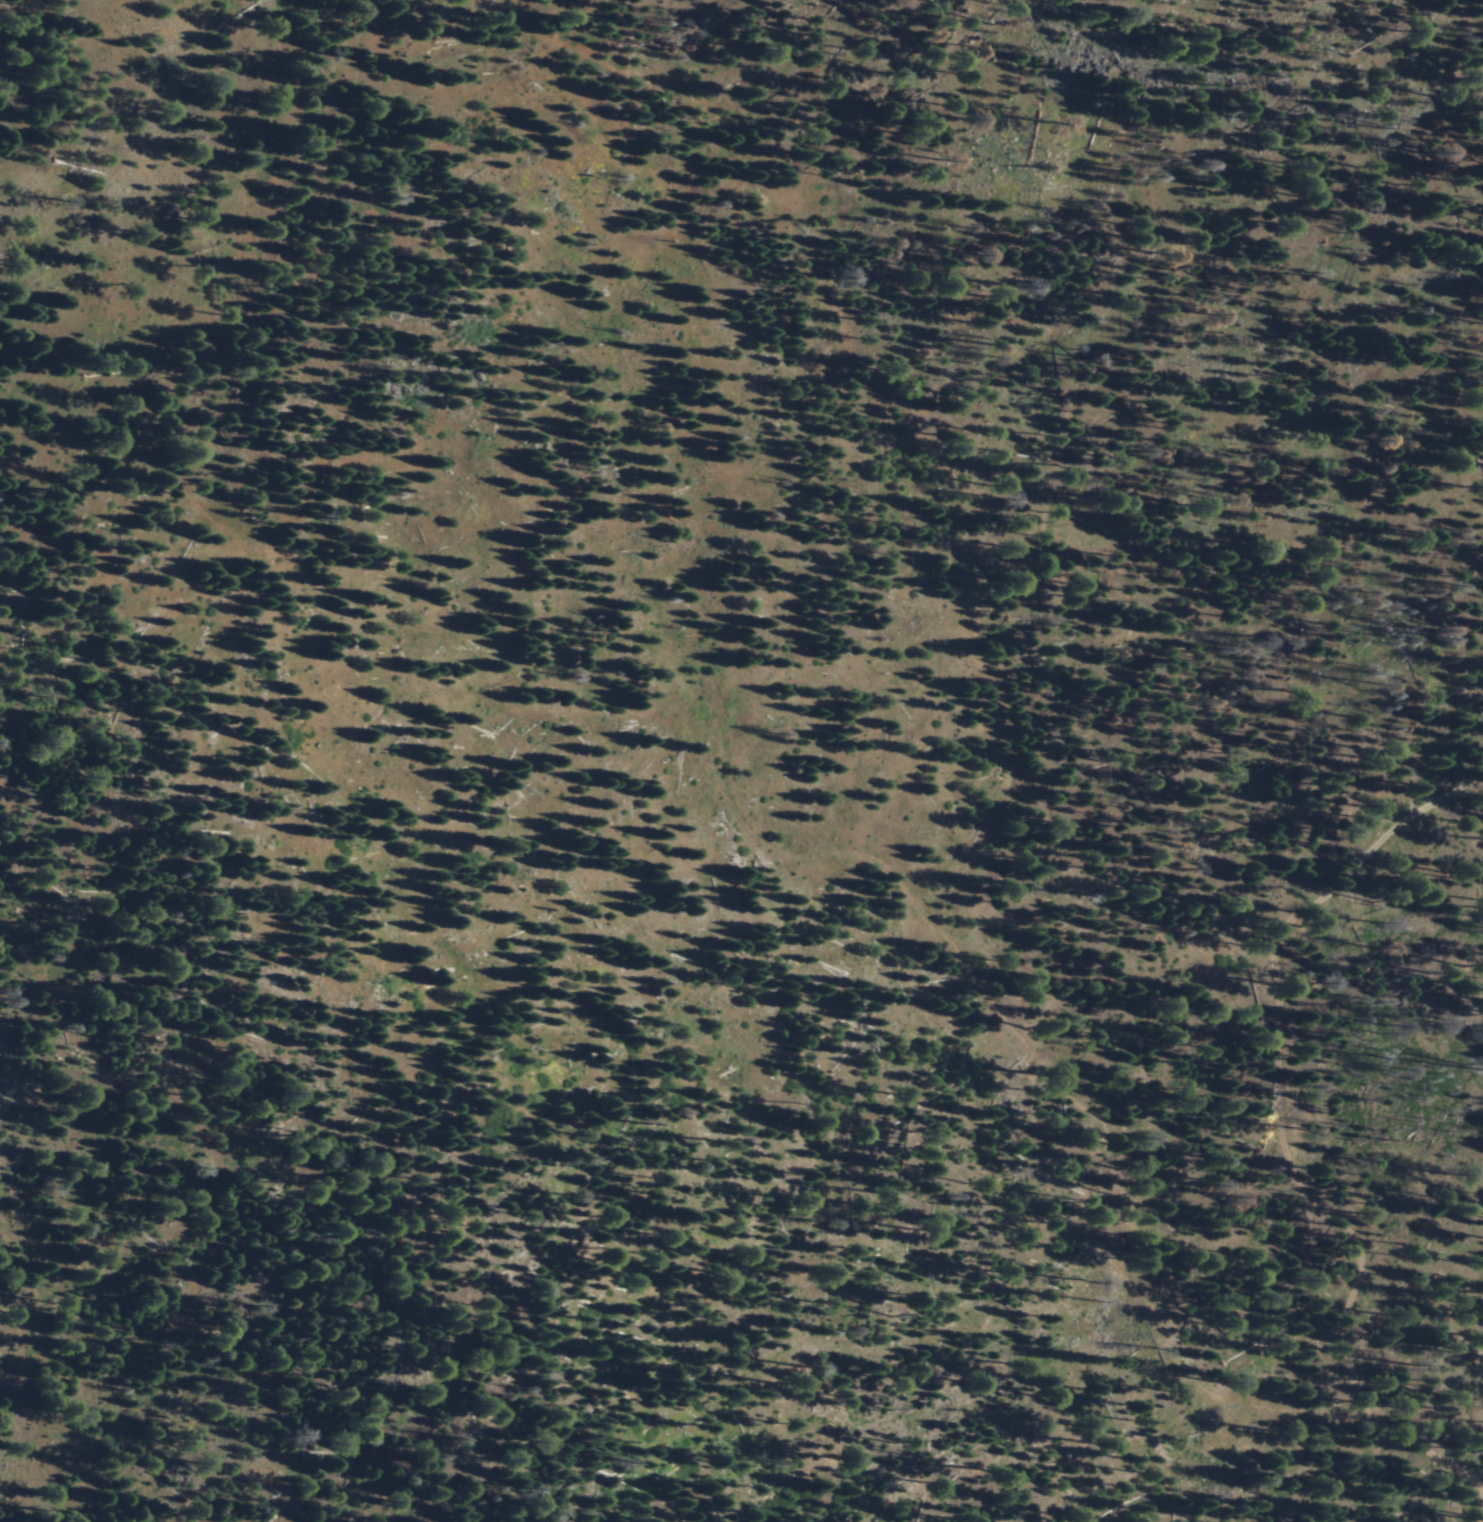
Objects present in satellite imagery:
road: (1191, 850)
road: (1325, 1128)
road: (1121, 1314)
road: (1472, 1500)

